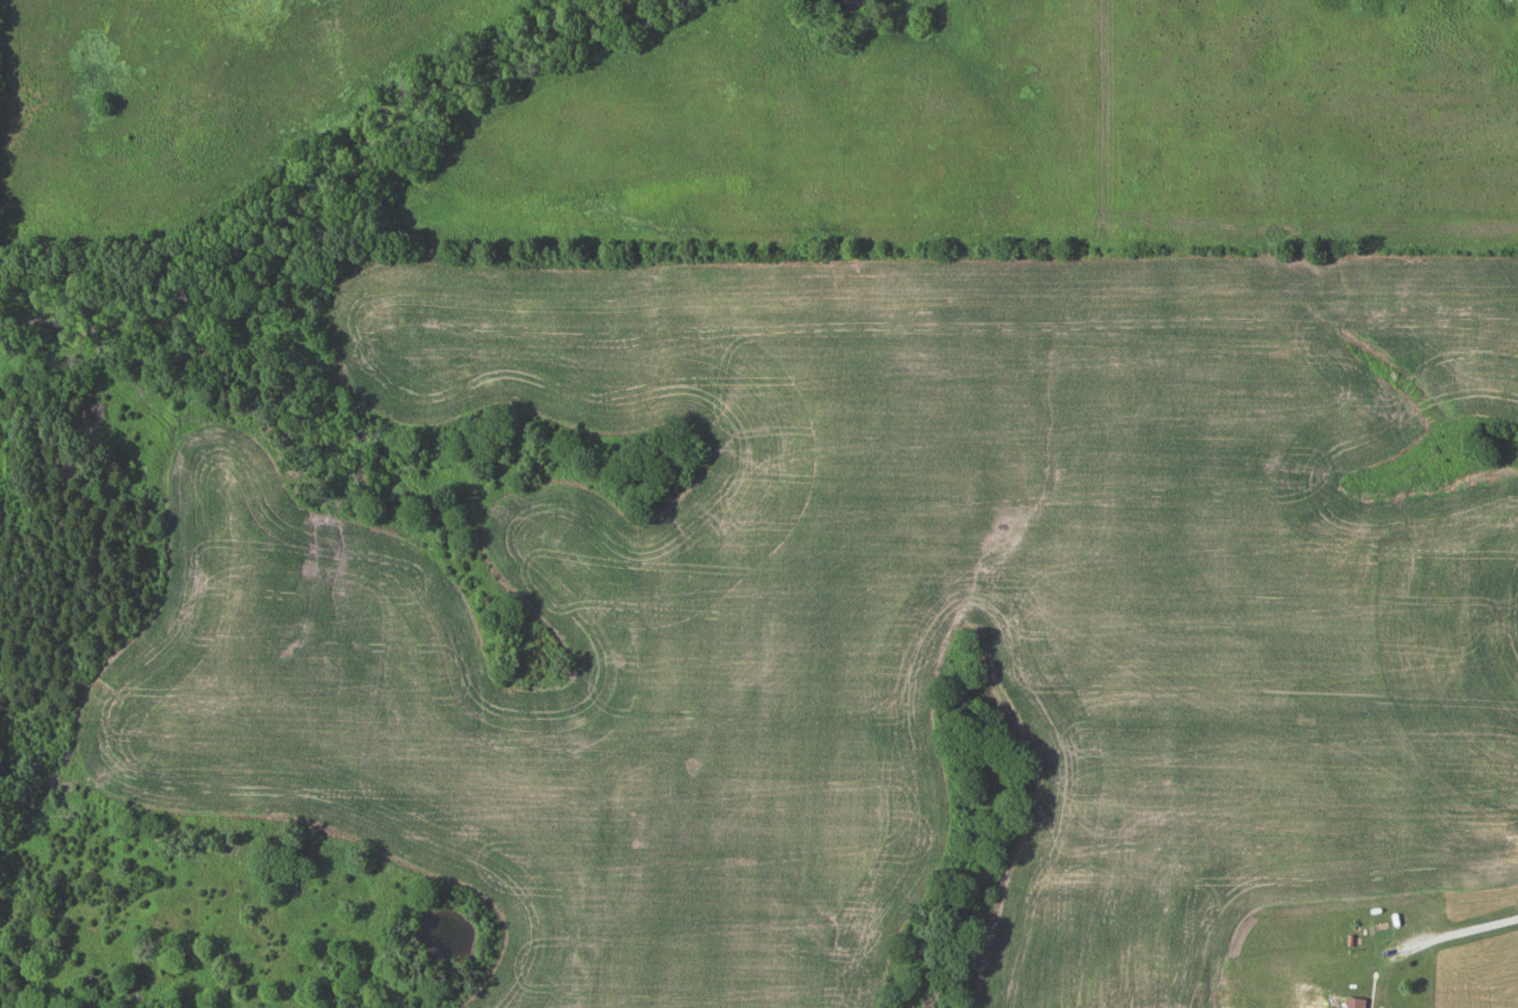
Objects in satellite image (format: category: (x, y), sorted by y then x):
road: (1430, 937)
building: (1357, 1003)

